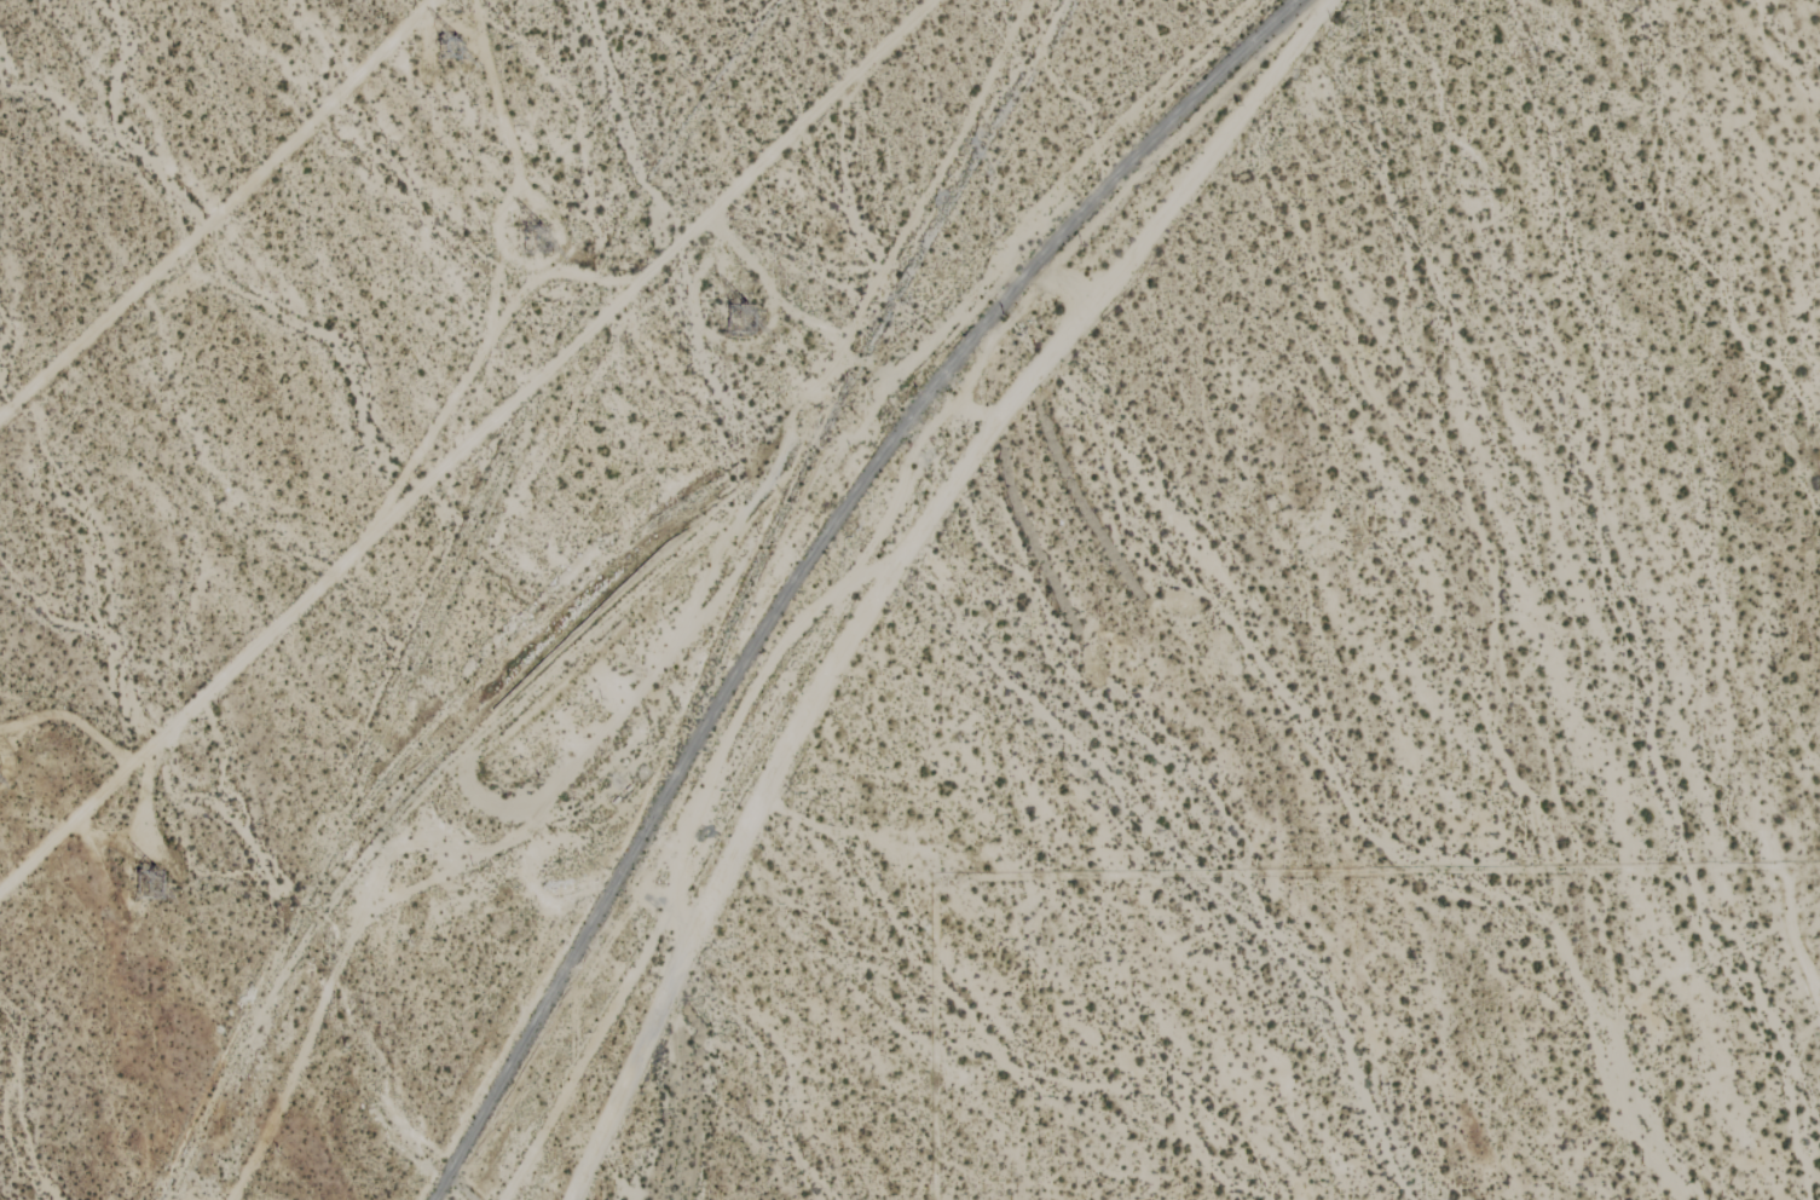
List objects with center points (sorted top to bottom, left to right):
power tower: (458, 51)
road: (1042, 207)
power tower: (532, 247)
power tower: (730, 327)
railway: (925, 393)
road: (464, 442)
road: (895, 565)
road: (660, 637)
power tower: (150, 887)
railway: (528, 1022)

